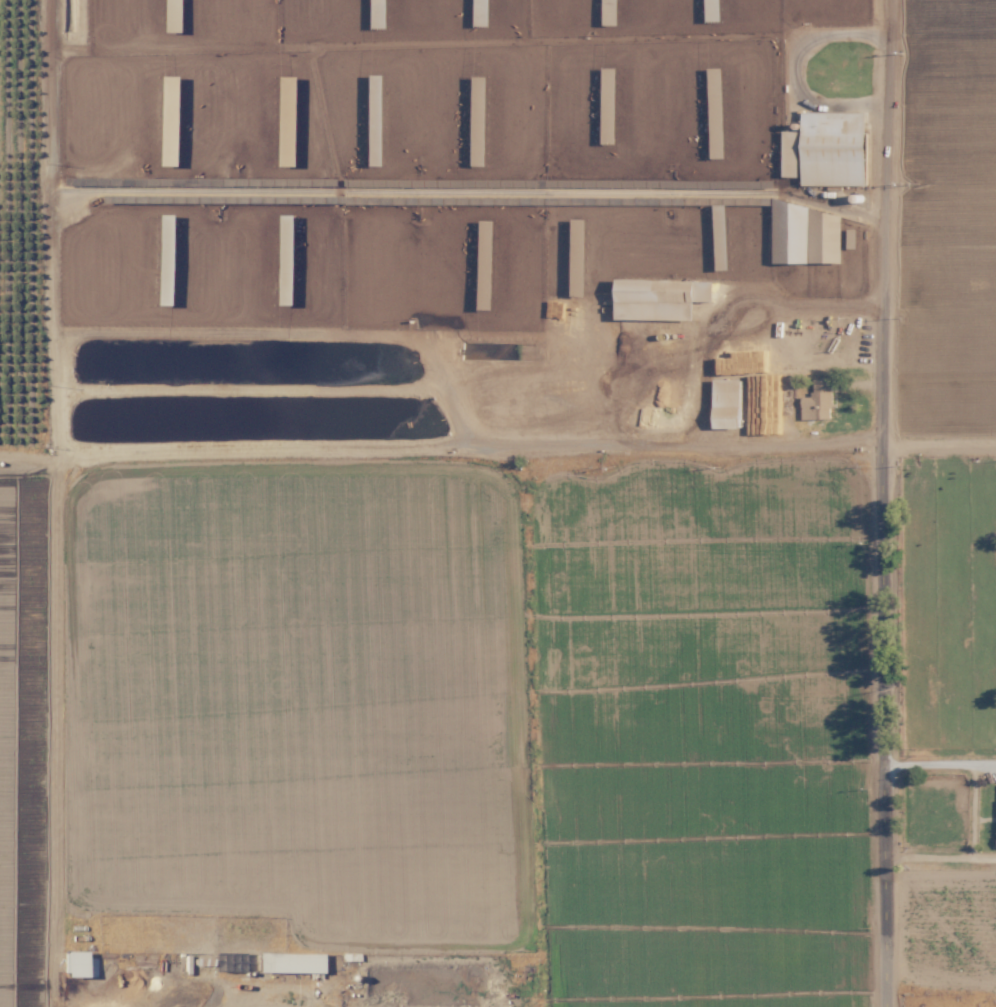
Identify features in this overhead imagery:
building: (279, 118)
building: (158, 122)
building: (831, 148)
building: (788, 153)
building: (477, 154)
crop: (954, 191)
building: (155, 234)
building: (805, 234)
building: (657, 298)
building: (816, 400)
building: (724, 403)
road: (941, 443)
road: (888, 614)
crop: (483, 710)
crop: (22, 735)
road: (942, 764)
road: (942, 857)
building: (285, 962)
building: (70, 963)

